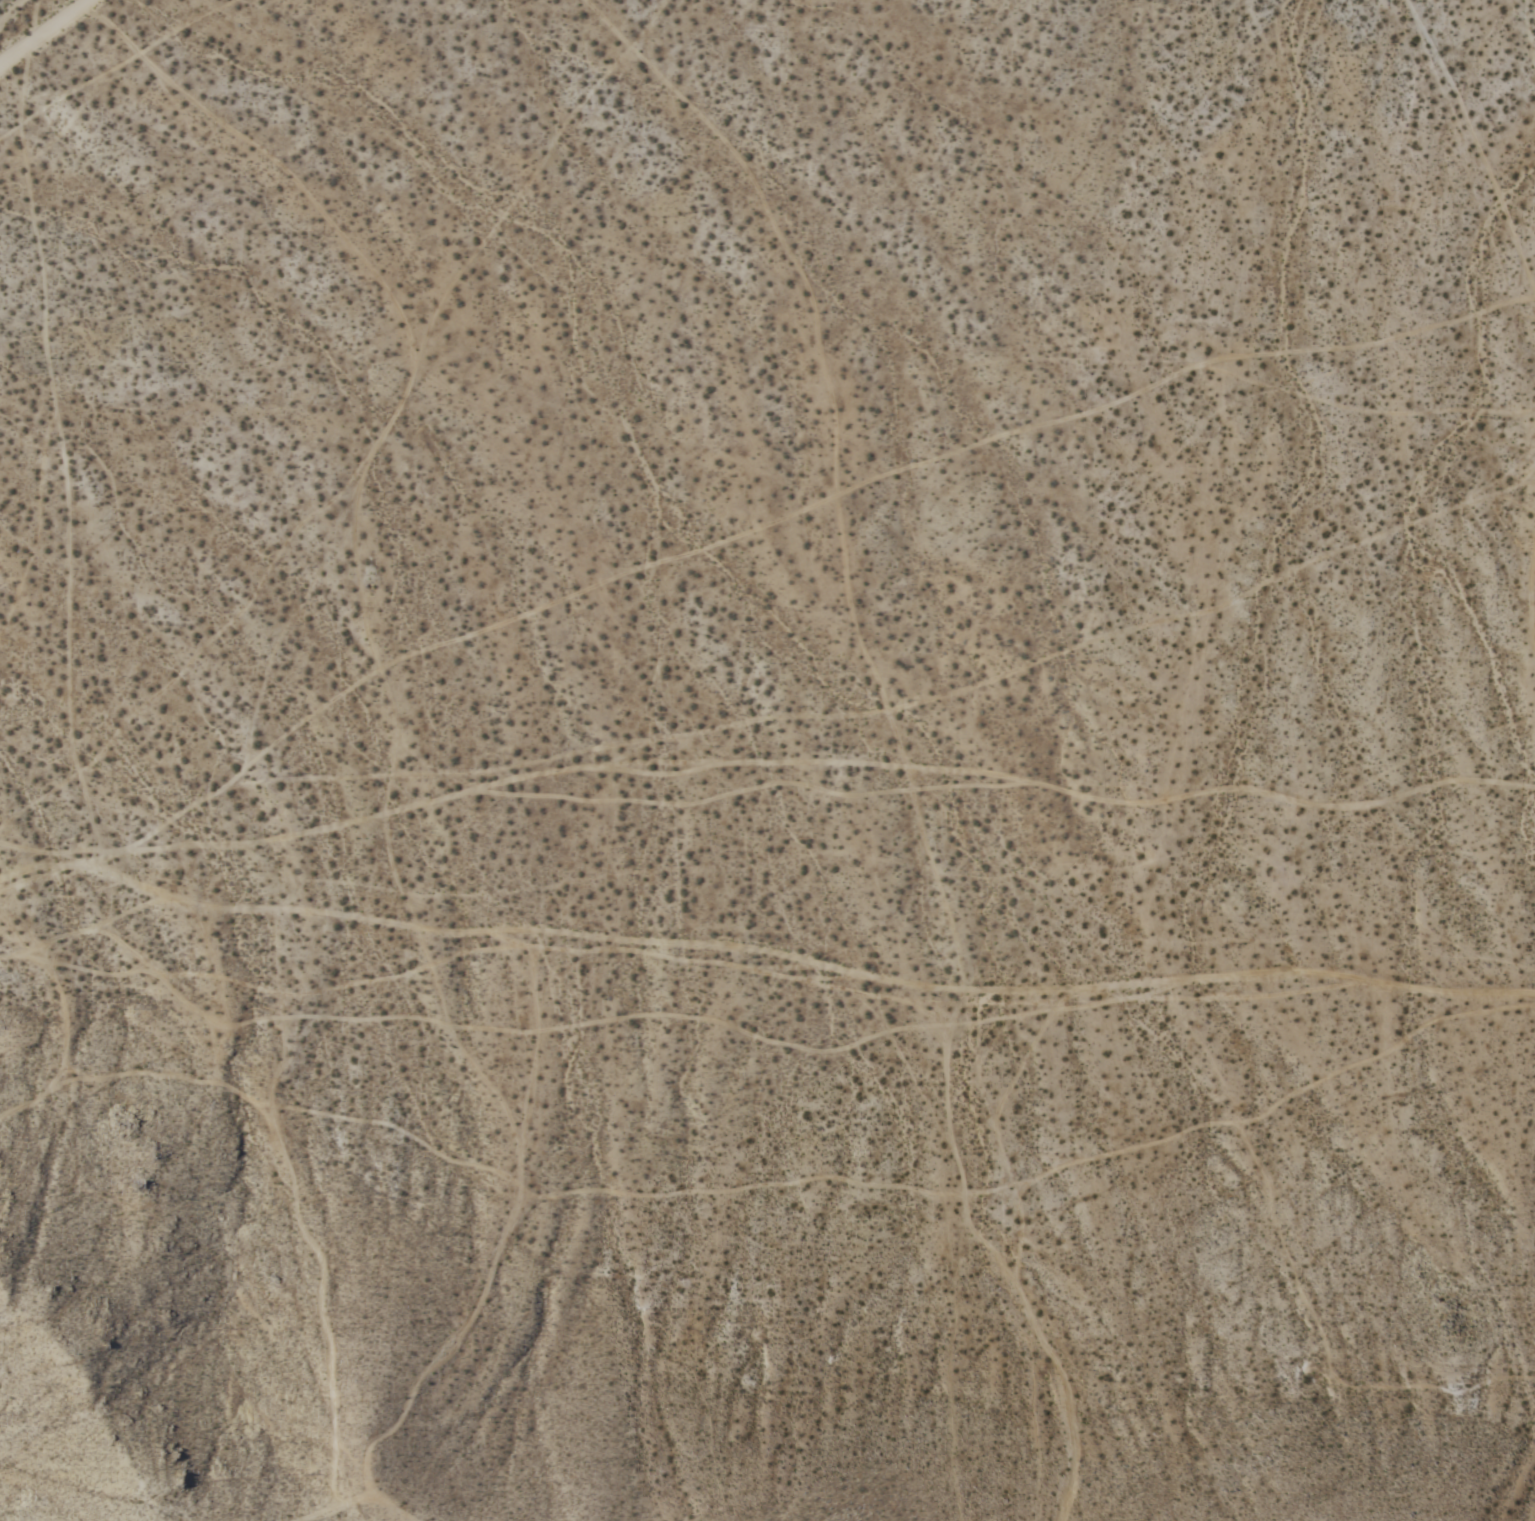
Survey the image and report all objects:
road: (47, 34)

